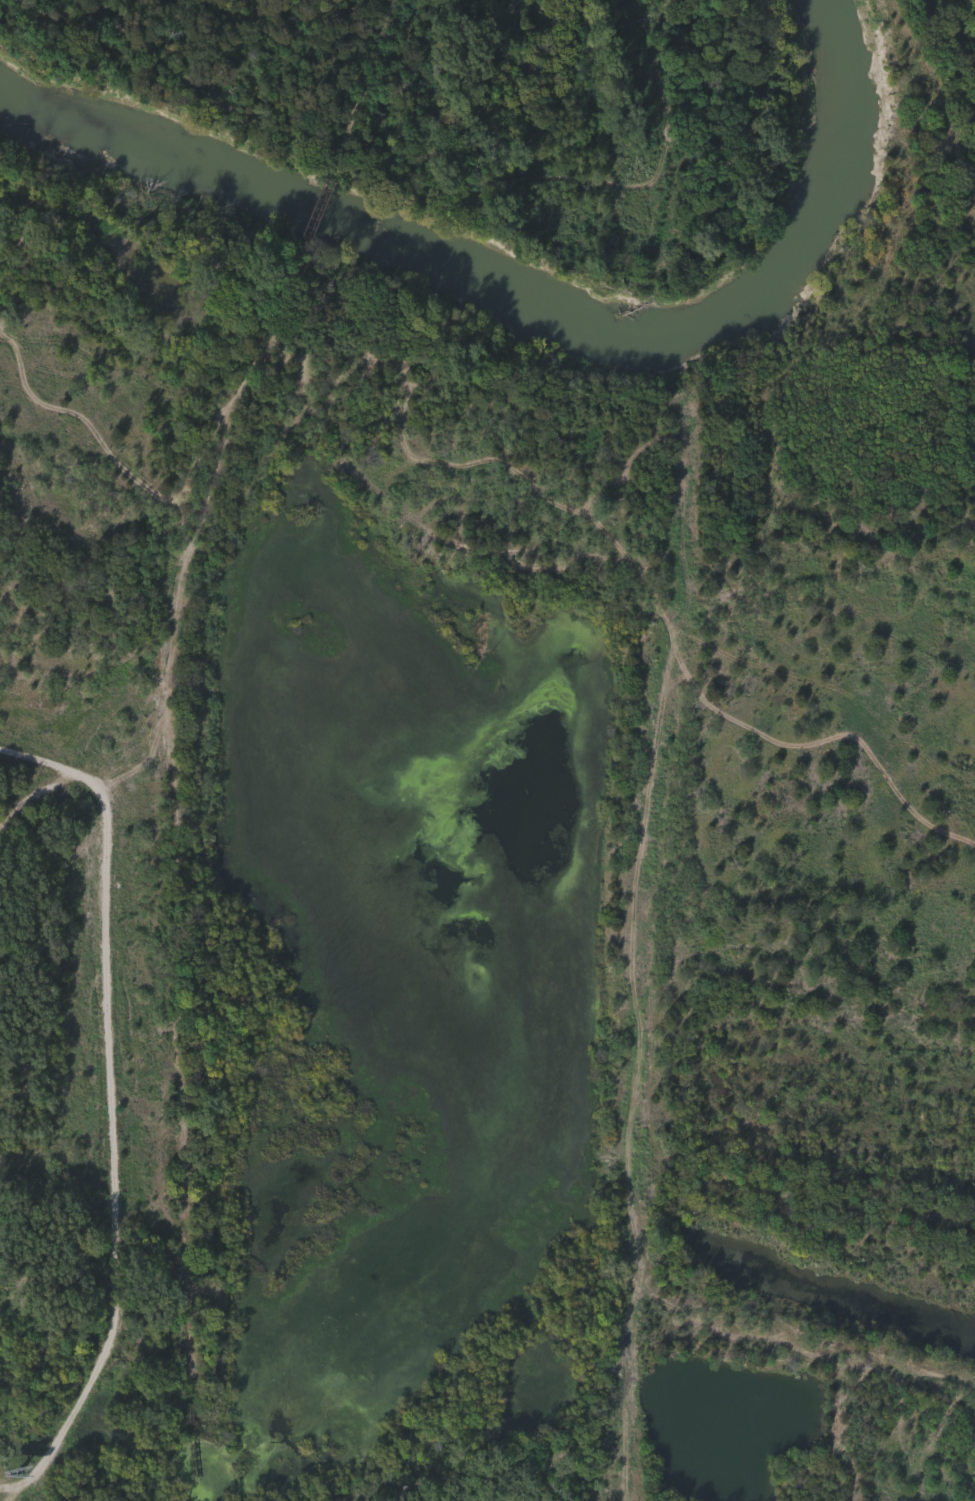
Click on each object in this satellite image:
river: (532, 311)
road: (112, 1100)

